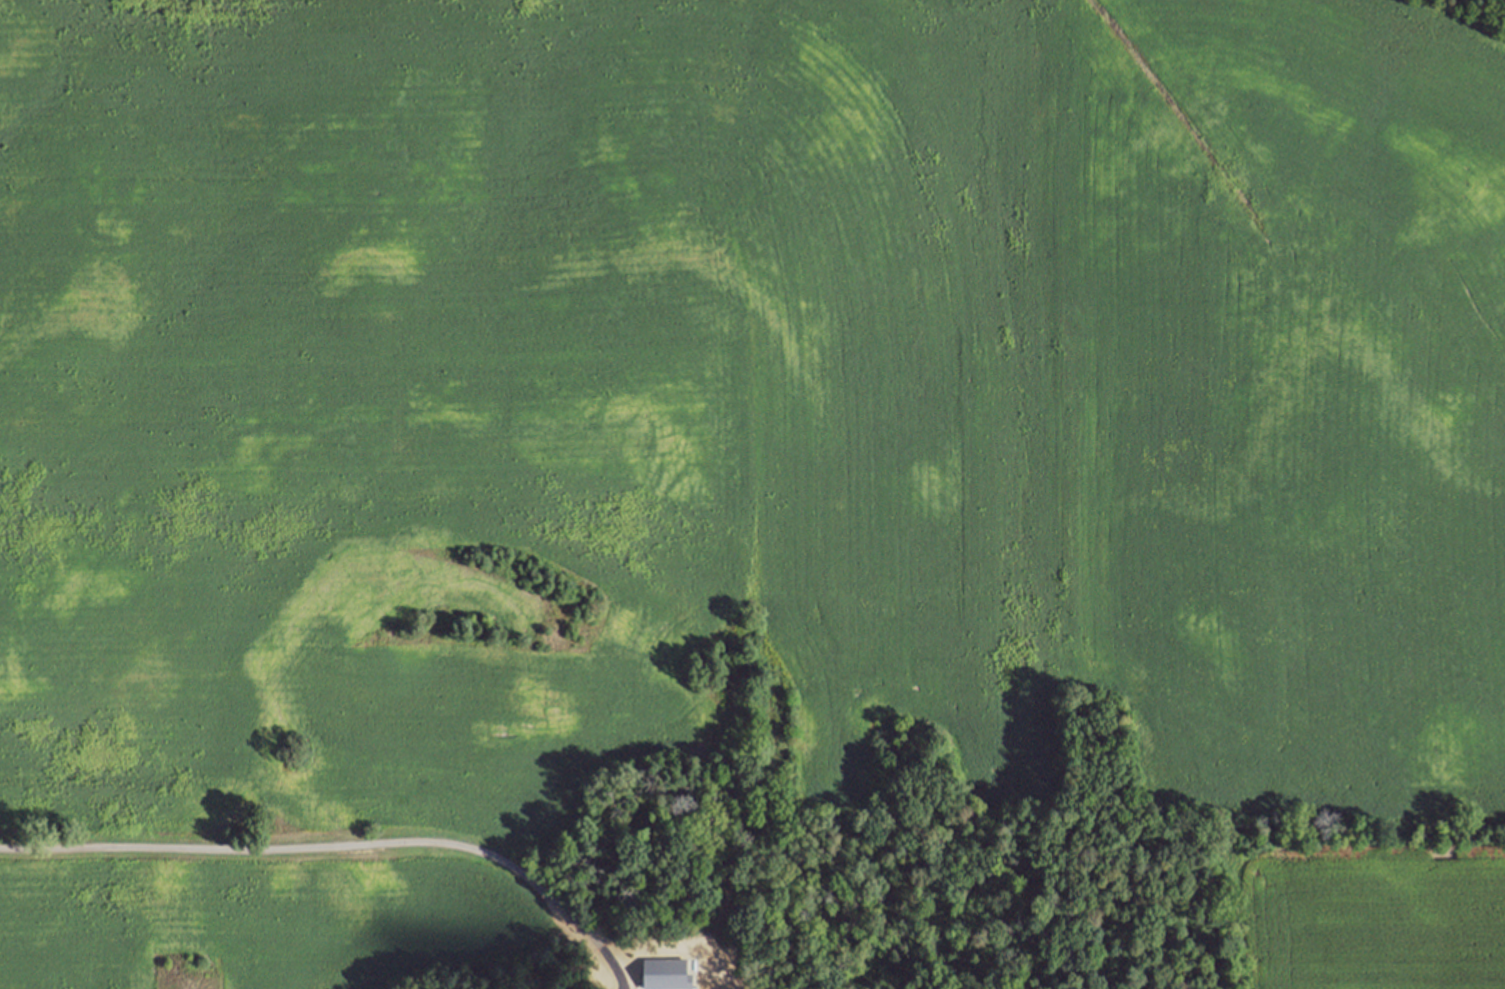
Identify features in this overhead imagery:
road: (342, 846)
building: (651, 872)

